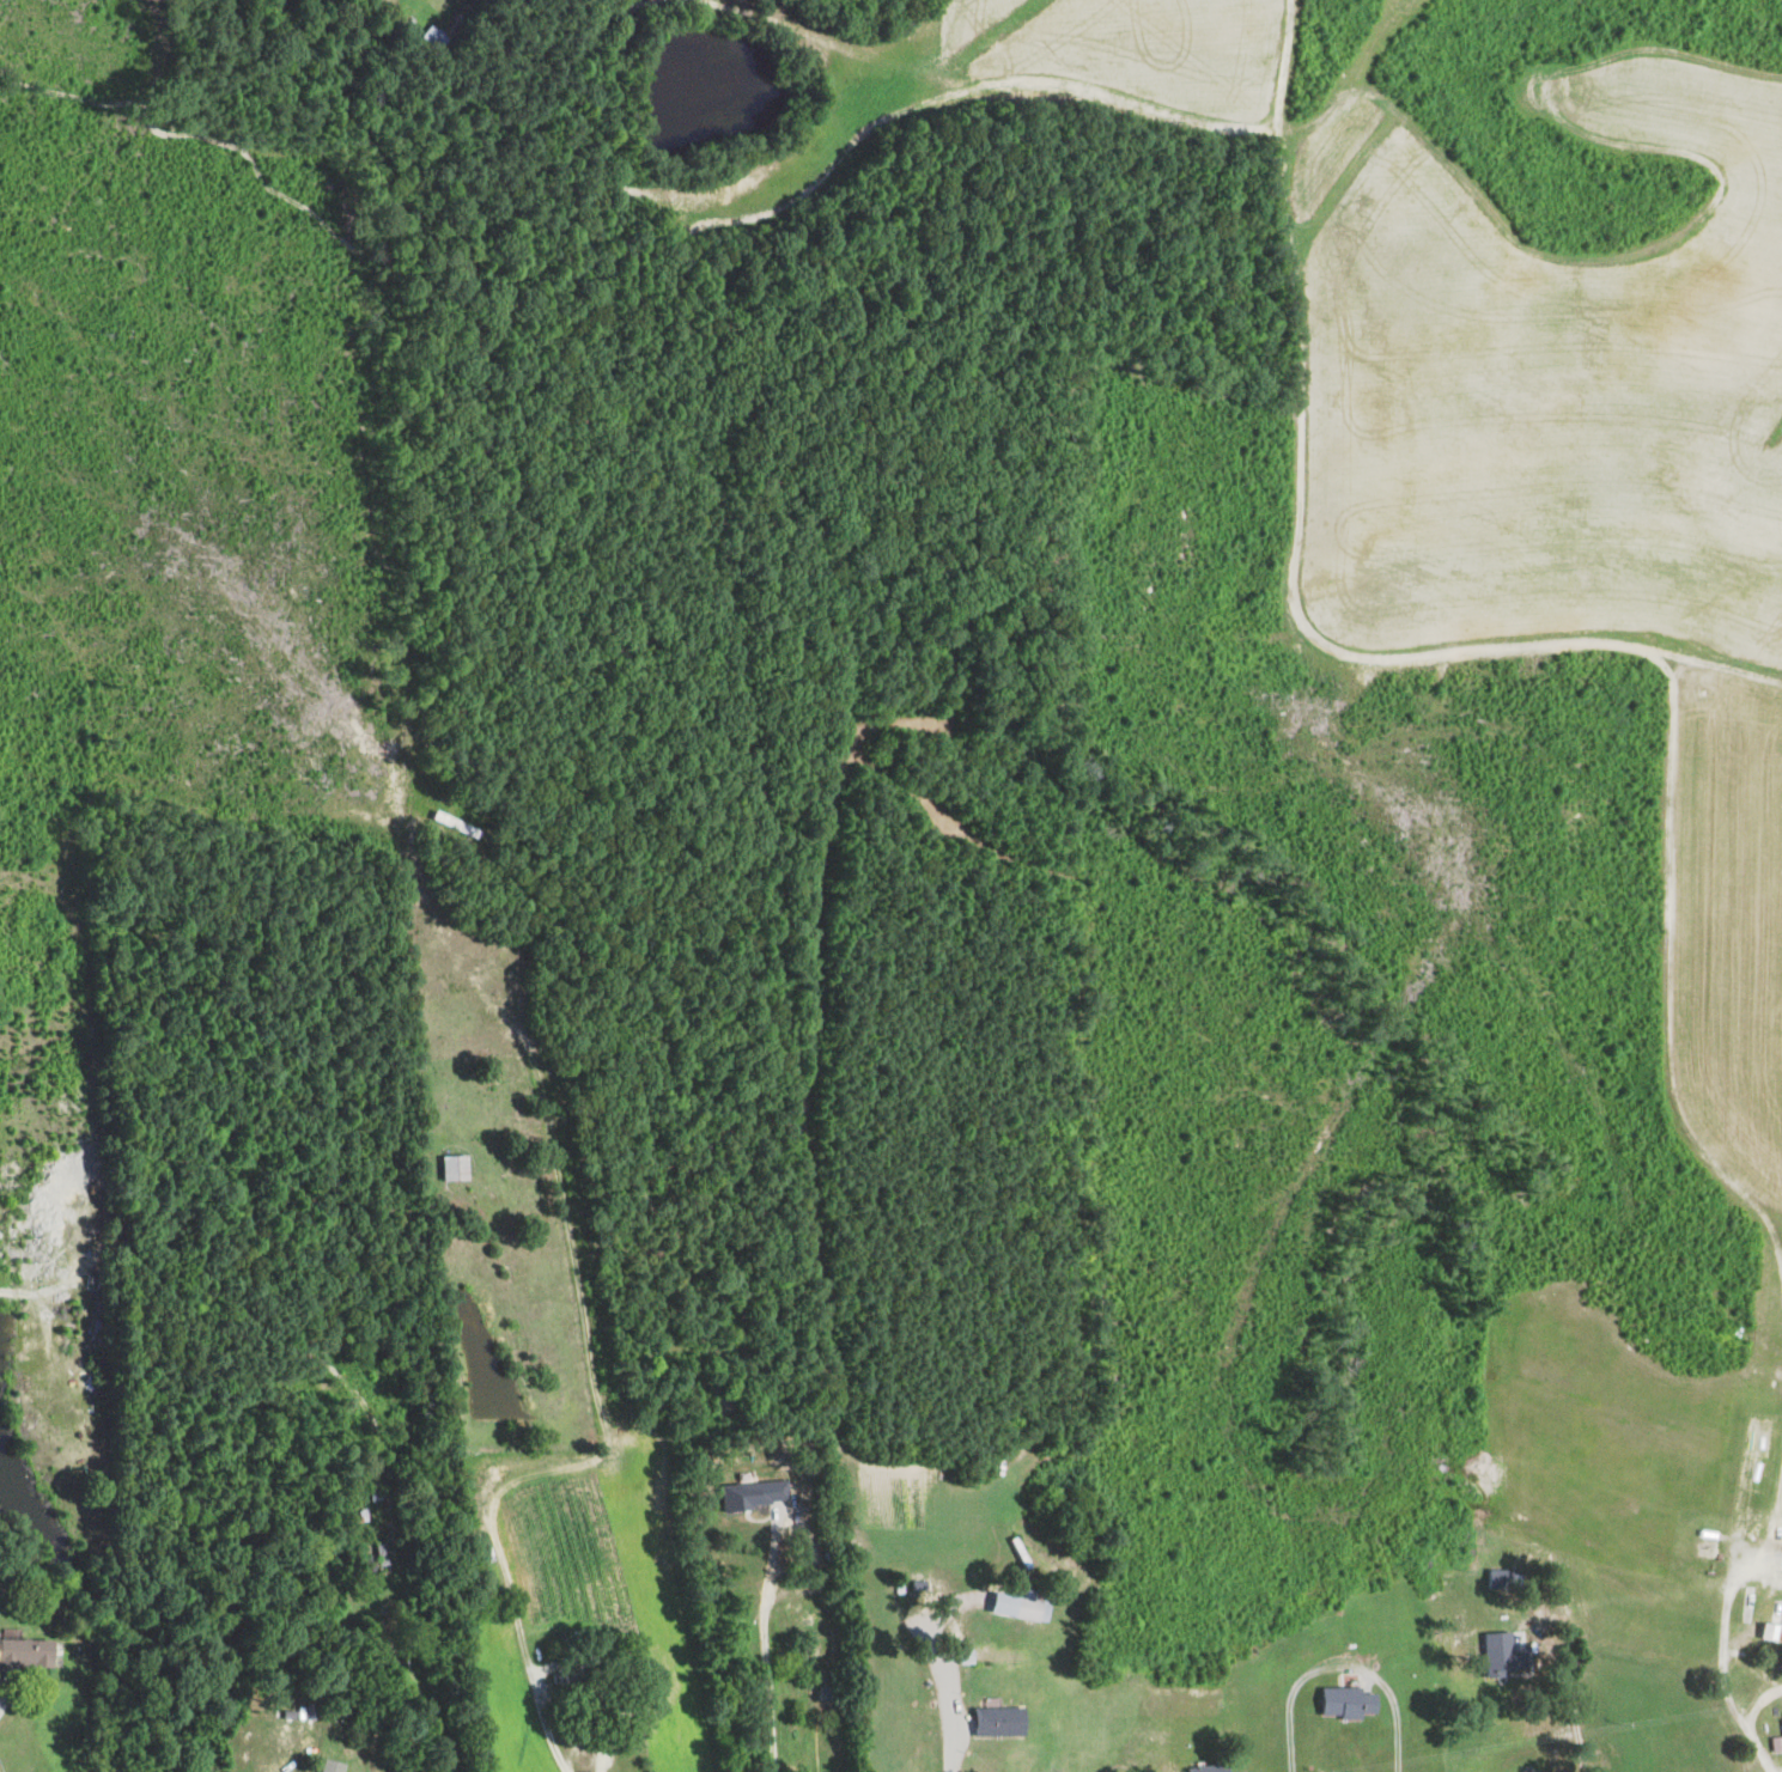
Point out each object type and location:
building: (748, 1494)
building: (1781, 1561)
building: (1492, 1579)
building: (1015, 1607)
building: (1766, 1633)
building: (29, 1652)
building: (1492, 1654)
building: (995, 1657)
road: (754, 1663)
road: (1338, 1667)
road: (949, 1694)
building: (1340, 1703)
road: (1568, 1704)
road: (540, 1711)
building: (300, 1712)
building: (991, 1721)
building: (1775, 1740)
road: (1760, 1758)
building: (334, 1766)
building: (1200, 1768)

